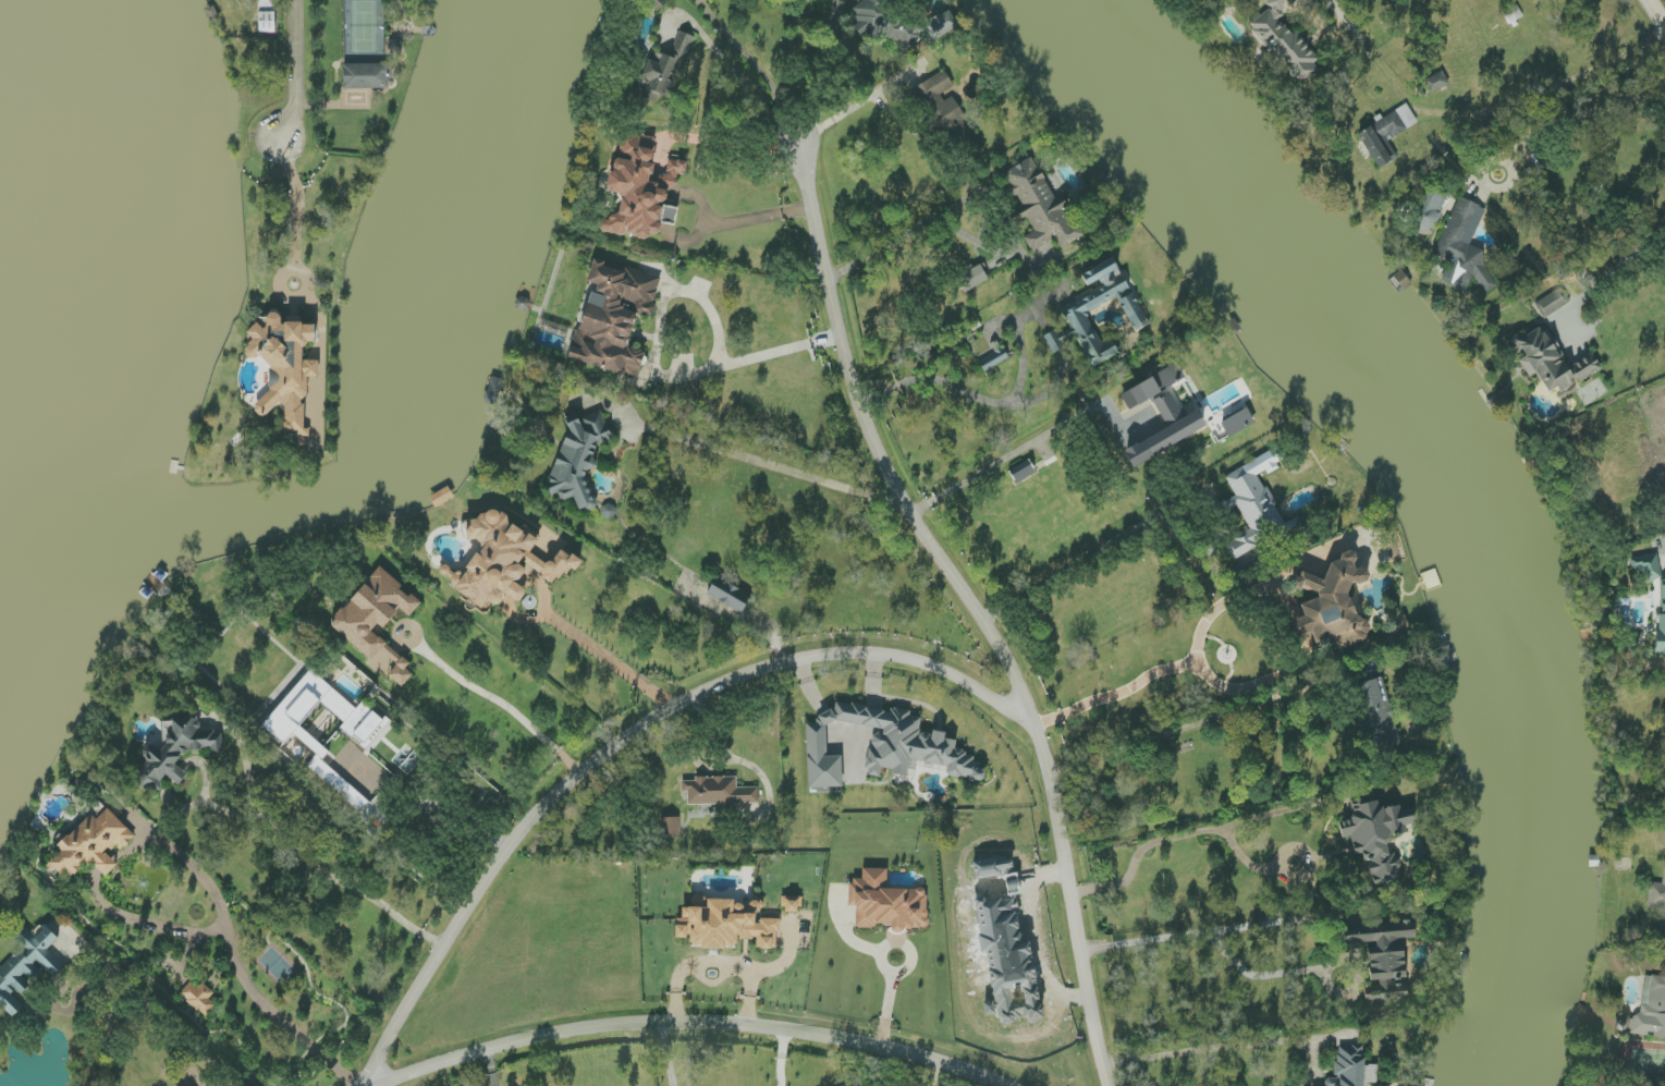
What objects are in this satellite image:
road: (1344, 13)
road: (1656, 13)
building: (267, 16)
building: (884, 24)
building: (940, 25)
building: (1284, 42)
road: (744, 50)
road: (717, 52)
building: (663, 71)
road: (296, 72)
building: (367, 76)
building: (1435, 82)
road: (1550, 87)
road: (780, 103)
road: (860, 103)
building: (945, 111)
road: (1579, 114)
building: (1382, 138)
road: (696, 196)
building: (1039, 205)
road: (297, 206)
building: (1428, 211)
road: (672, 216)
road: (730, 221)
road: (914, 229)
building: (1465, 246)
road: (1611, 272)
building: (972, 278)
building: (1552, 303)
building: (614, 318)
building: (1078, 318)
building: (1055, 345)
building: (993, 358)
building: (1551, 361)
road: (722, 365)
building: (285, 369)
road: (985, 400)
building: (1161, 415)
building: (1237, 423)
building: (578, 461)
road: (769, 465)
road: (974, 478)
building: (1258, 507)
building: (504, 562)
road: (1070, 565)
building: (1646, 566)
building: (729, 595)
road: (1224, 602)
building: (1331, 603)
road: (978, 612)
building: (1661, 618)
building: (377, 622)
building: (1399, 624)
road: (605, 658)
road: (1182, 664)
road: (502, 700)
building: (1376, 715)
building: (357, 716)
road: (627, 735)
road: (1137, 746)
building: (884, 747)
building: (173, 753)
road: (726, 757)
building: (344, 789)
building: (723, 794)
building: (670, 826)
building: (1376, 837)
road: (1182, 838)
building: (94, 843)
road: (320, 871)
building: (1656, 893)
building: (886, 903)
building: (792, 904)
road: (149, 922)
building: (726, 926)
road: (1207, 934)
road: (236, 959)
road: (714, 962)
building: (1385, 963)
building: (26, 967)
road: (909, 969)
building: (199, 998)
building: (1651, 1010)
road: (159, 1012)
road: (688, 1024)
road: (1211, 1050)
road: (668, 1053)
road: (781, 1058)
road: (492, 1067)
building: (1351, 1069)
road: (938, 1073)

